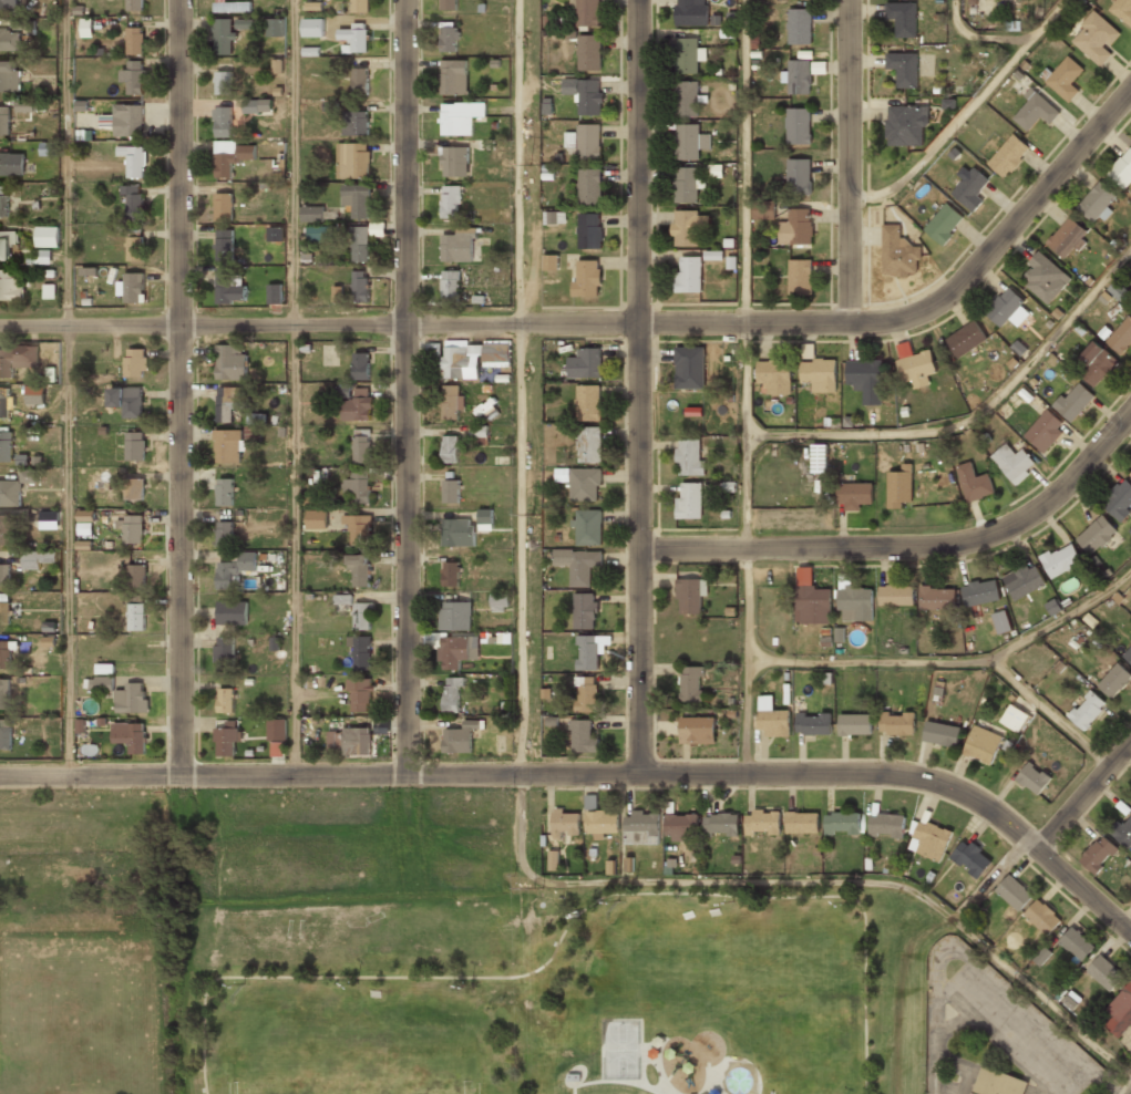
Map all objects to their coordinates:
building: (8, 4)
building: (134, 4)
building: (448, 4)
building: (360, 6)
building: (232, 7)
building: (1122, 10)
building: (587, 13)
building: (689, 13)
building: (902, 18)
building: (245, 23)
building: (799, 27)
building: (86, 28)
building: (275, 28)
building: (311, 28)
building: (223, 37)
building: (449, 38)
road: (979, 38)
building: (1094, 38)
building: (10, 39)
building: (352, 40)
building: (133, 41)
building: (589, 53)
building: (687, 56)
building: (903, 69)
building: (9, 75)
building: (132, 76)
building: (453, 78)
building: (798, 78)
building: (1065, 78)
building: (359, 81)
building: (223, 82)
building: (588, 97)
building: (687, 100)
building: (24, 105)
building: (250, 106)
building: (1032, 110)
road: (965, 113)
building: (459, 117)
building: (3, 121)
building: (127, 121)
building: (222, 122)
building: (356, 123)
building: (906, 125)
building: (798, 126)
building: (690, 142)
building: (588, 143)
building: (48, 148)
building: (1008, 155)
building: (133, 159)
building: (230, 161)
building: (352, 161)
road: (847, 161)
building: (454, 162)
building: (11, 164)
building: (1122, 171)
building: (798, 175)
building: (686, 185)
building: (588, 186)
building: (970, 188)
building: (132, 199)
building: (356, 200)
building: (450, 200)
building: (3, 202)
building: (1096, 203)
building: (224, 206)
building: (763, 209)
building: (311, 214)
building: (554, 217)
building: (944, 223)
building: (800, 225)
building: (686, 228)
building: (588, 230)
building: (45, 237)
building: (1067, 238)
building: (224, 244)
building: (459, 244)
building: (359, 245)
building: (6, 246)
building: (134, 248)
building: (898, 254)
building: (41, 258)
building: (549, 262)
building: (689, 275)
building: (587, 277)
building: (800, 277)
building: (1045, 277)
building: (449, 285)
building: (10, 287)
building: (132, 287)
building: (359, 287)
building: (229, 288)
building: (1119, 290)
building: (48, 291)
building: (273, 293)
building: (337, 293)
building: (1006, 308)
road: (818, 322)
road: (202, 323)
building: (1121, 336)
building: (965, 339)
building: (472, 359)
building: (8, 361)
building: (134, 362)
building: (230, 362)
building: (585, 363)
building: (360, 365)
building: (916, 367)
building: (689, 368)
building: (1098, 368)
building: (819, 375)
building: (774, 376)
building: (866, 380)
road: (520, 385)
road: (638, 385)
road: (746, 385)
road: (404, 386)
road: (66, 388)
road: (178, 388)
road: (294, 388)
building: (341, 391)
building: (35, 394)
building: (126, 400)
building: (1073, 400)
building: (226, 402)
building: (451, 402)
building: (588, 402)
building: (3, 403)
building: (357, 406)
road: (973, 415)
building: (1045, 430)
building: (479, 433)
building: (589, 444)
building: (134, 446)
building: (227, 446)
building: (6, 447)
building: (449, 448)
building: (361, 450)
building: (689, 458)
building: (818, 458)
building: (1014, 462)
building: (1130, 473)
building: (1130, 474)
building: (974, 483)
building: (585, 484)
building: (357, 486)
building: (899, 486)
building: (134, 489)
building: (450, 492)
building: (10, 493)
building: (223, 493)
building: (853, 495)
building: (689, 500)
building: (1118, 500)
power tower: (536, 513)
building: (85, 515)
building: (49, 519)
building: (316, 519)
building: (485, 519)
building: (588, 527)
building: (84, 528)
building: (357, 528)
building: (6, 529)
building: (131, 529)
building: (457, 533)
building: (223, 534)
building: (1096, 535)
road: (908, 549)
building: (338, 556)
building: (35, 558)
building: (1060, 560)
building: (578, 564)
building: (234, 569)
building: (358, 570)
building: (3, 575)
building: (450, 575)
building: (136, 577)
building: (1022, 581)
building: (979, 592)
building: (689, 596)
building: (895, 597)
building: (936, 598)
building: (343, 599)
building: (500, 601)
building: (854, 605)
building: (813, 606)
building: (1052, 607)
building: (585, 610)
building: (135, 612)
building: (230, 612)
building: (4, 613)
building: (360, 616)
building: (454, 616)
road: (1061, 616)
building: (1001, 622)
building: (452, 651)
building: (224, 653)
building: (360, 653)
building: (587, 653)
building: (1128, 654)
building: (4, 656)
road: (868, 661)
building: (1113, 681)
building: (101, 684)
building: (691, 684)
building: (451, 694)
building: (586, 694)
building: (3, 695)
building: (359, 695)
building: (131, 699)
building: (224, 701)
building: (1087, 711)
road: (1050, 713)
building: (771, 718)
building: (1015, 718)
building: (813, 723)
building: (855, 724)
building: (896, 724)
building: (696, 731)
building: (939, 734)
building: (583, 735)
building: (4, 736)
building: (275, 736)
building: (128, 739)
building: (456, 741)
building: (226, 742)
building: (356, 742)
building: (983, 745)
road: (592, 772)
building: (1032, 778)
road: (1083, 795)
building: (590, 803)
building: (602, 822)
building: (565, 823)
building: (761, 823)
building: (802, 823)
building: (842, 823)
building: (720, 824)
building: (886, 825)
building: (641, 827)
building: (680, 827)
building: (1124, 833)
building: (929, 840)
building: (1098, 856)
building: (970, 858)
building: (553, 860)
power tower: (534, 885)
building: (1012, 892)
road: (1124, 915)
building: (1041, 917)
road: (565, 926)
building: (1077, 945)
building: (1042, 956)
park: (513, 962)
building: (1106, 974)
building: (1119, 1015)
park: (353, 1052)
building: (572, 1077)
building: (998, 1083)
road: (573, 1087)

